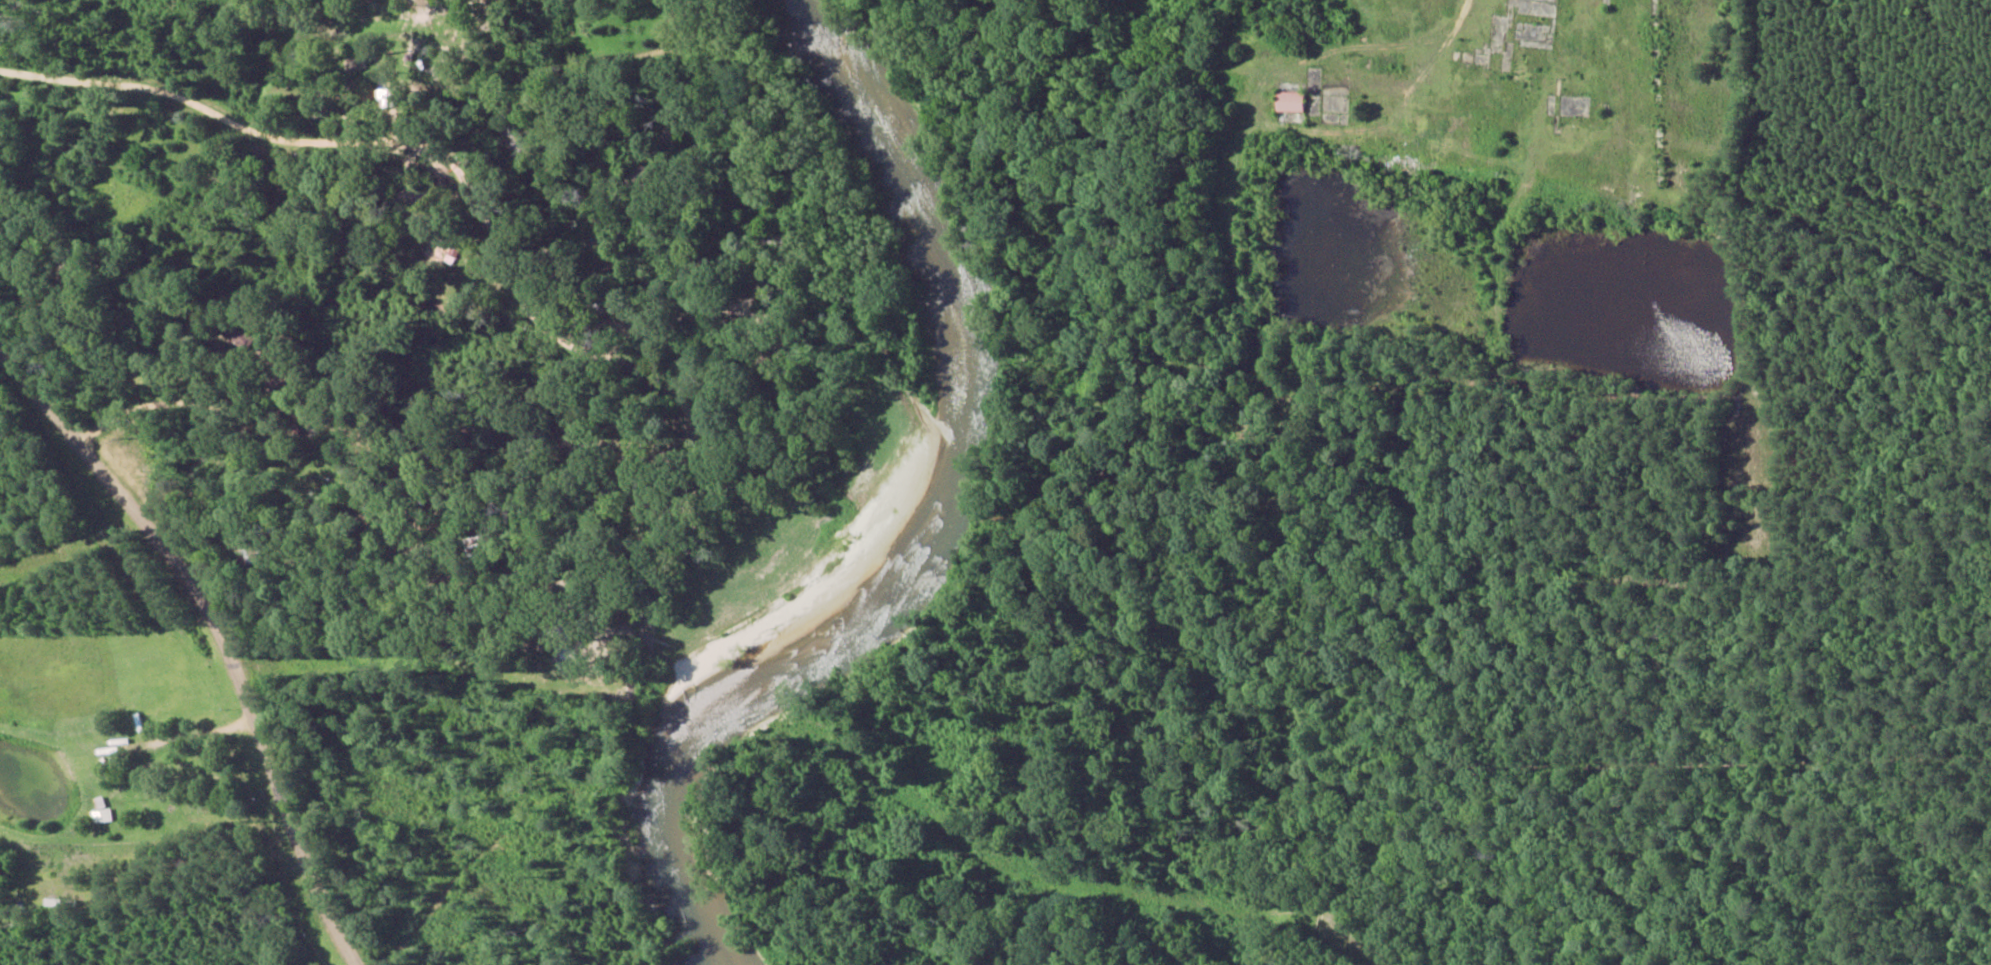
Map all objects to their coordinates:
building: (1288, 101)
road: (183, 254)
road: (162, 263)
road: (444, 376)
road: (132, 392)
road: (220, 629)
road: (1741, 764)
building: (99, 811)

